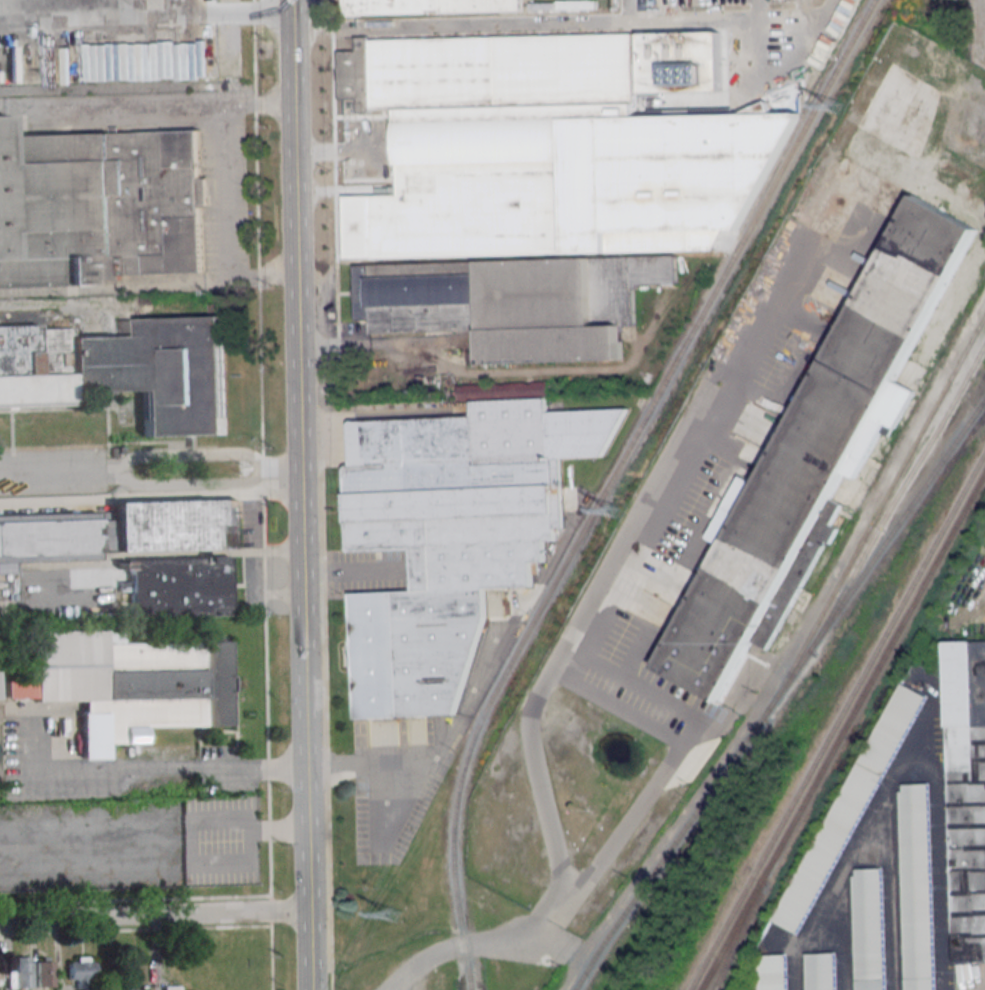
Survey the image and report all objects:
building: (430, 6)
road: (719, 26)
road: (473, 27)
road: (113, 104)
power tower: (836, 106)
road: (227, 188)
building: (539, 189)
building: (100, 207)
road: (116, 288)
road: (357, 342)
building: (125, 371)
building: (815, 446)
road: (149, 480)
railway: (612, 482)
road: (298, 495)
power tower: (614, 510)
building: (453, 531)
building: (141, 550)
road: (599, 571)
road: (352, 573)
railway: (807, 668)
building: (128, 684)
railway: (862, 688)
road: (925, 727)
road: (682, 752)
road: (376, 759)
road: (152, 767)
building: (967, 795)
building: (849, 808)
building: (26, 822)
building: (916, 886)
power tower: (393, 915)
road: (153, 920)
building: (869, 929)
road: (462, 947)
railway: (717, 949)
building: (774, 971)
building: (821, 971)
building: (22, 972)
building: (44, 972)
building: (81, 972)
building: (170, 988)

